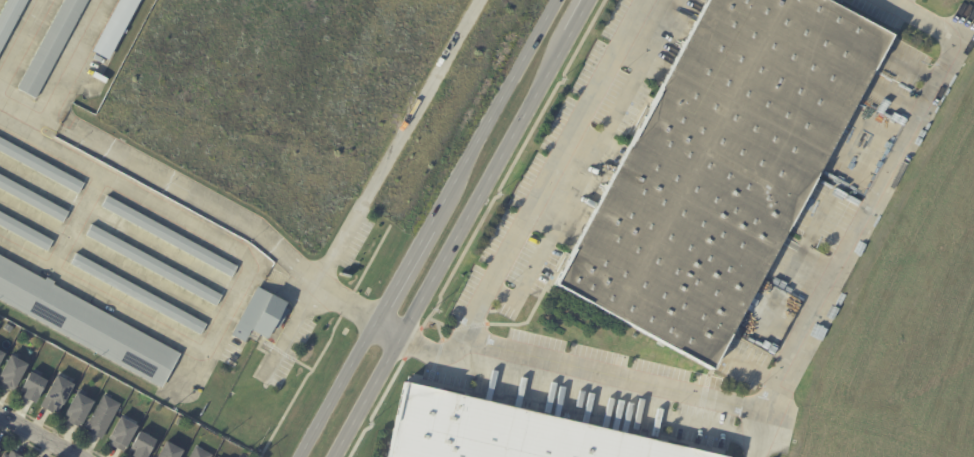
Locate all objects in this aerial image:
building: (10, 18)
road: (575, 21)
road: (22, 41)
building: (52, 46)
road: (74, 58)
road: (22, 105)
road: (397, 141)
building: (714, 164)
building: (41, 167)
road: (548, 177)
road: (185, 193)
building: (33, 199)
road: (865, 211)
road: (426, 227)
building: (25, 232)
building: (169, 237)
road: (447, 249)
building: (154, 266)
road: (241, 280)
road: (281, 290)
building: (140, 295)
road: (346, 303)
building: (262, 316)
building: (85, 324)
building: (9, 329)
road: (290, 329)
road: (386, 331)
building: (53, 351)
building: (1, 357)
road: (580, 367)
building: (13, 374)
road: (304, 380)
building: (34, 387)
building: (57, 396)
building: (79, 410)
building: (103, 418)
building: (507, 430)
building: (123, 435)
road: (38, 436)
building: (0, 446)
building: (143, 446)
building: (171, 451)
building: (200, 453)
building: (13, 455)
building: (5, 456)
building: (217, 456)

